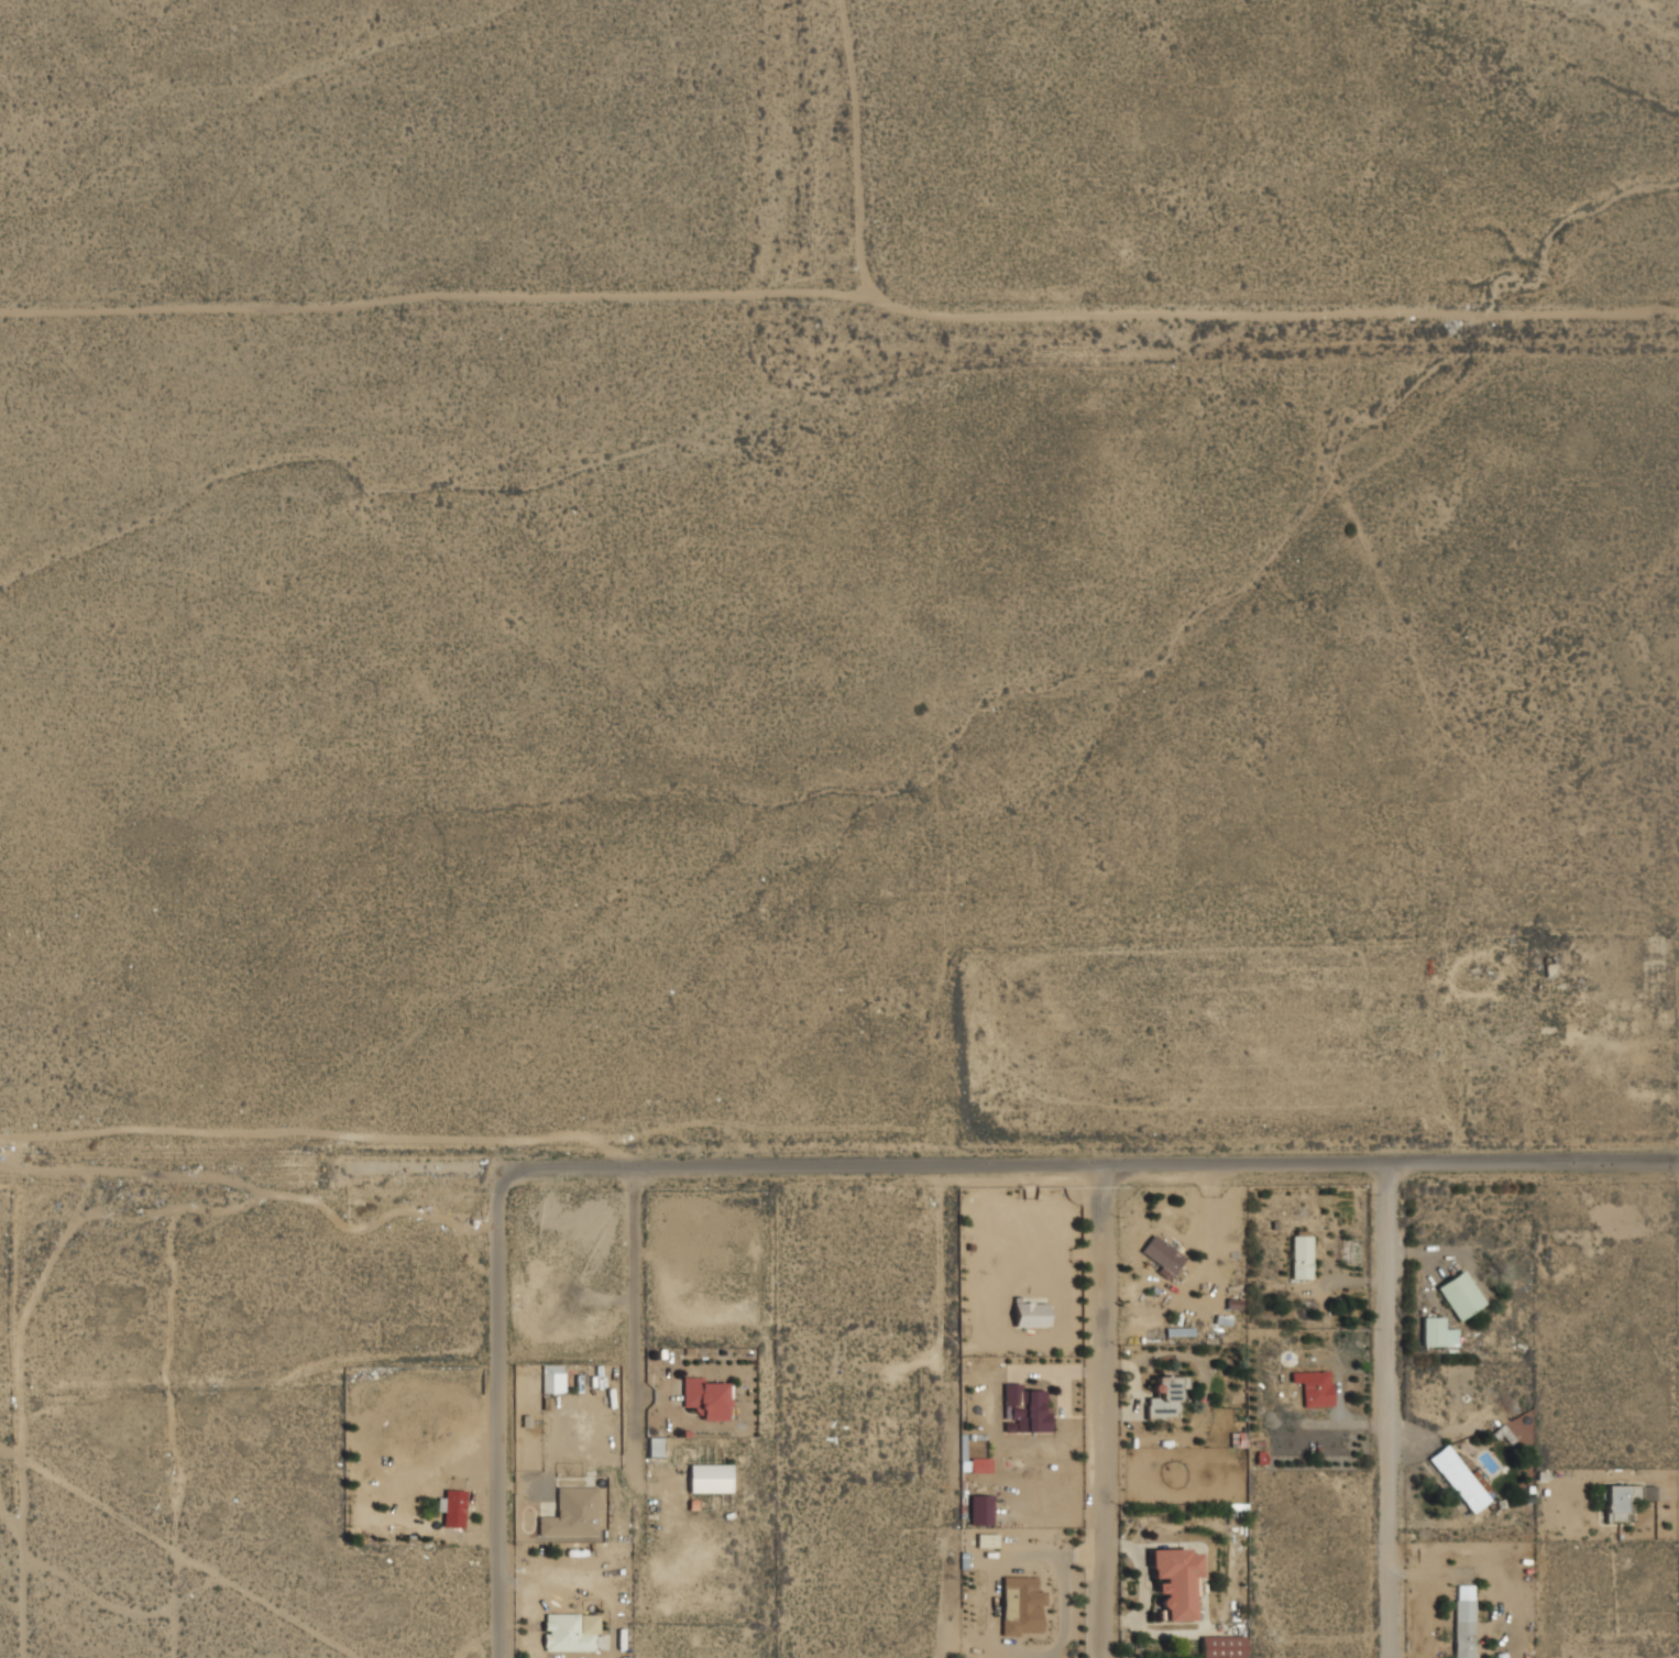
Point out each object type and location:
road: (1094, 1162)
building: (1160, 1255)
building: (1298, 1258)
building: (1458, 1296)
building: (1027, 1316)
road: (641, 1321)
building: (1434, 1333)
building: (551, 1377)
building: (1310, 1388)
building: (702, 1397)
building: (1160, 1398)
road: (505, 1407)
building: (1022, 1409)
road: (1099, 1409)
road: (1383, 1409)
building: (979, 1464)
building: (705, 1478)
building: (1456, 1479)
building: (1620, 1498)
building: (451, 1507)
building: (977, 1509)
building: (1626, 1512)
building: (569, 1514)
building: (985, 1541)
building: (1171, 1581)
building: (1018, 1606)
building: (1462, 1622)
building: (561, 1634)
building: (1219, 1647)
building: (1499, 1656)

